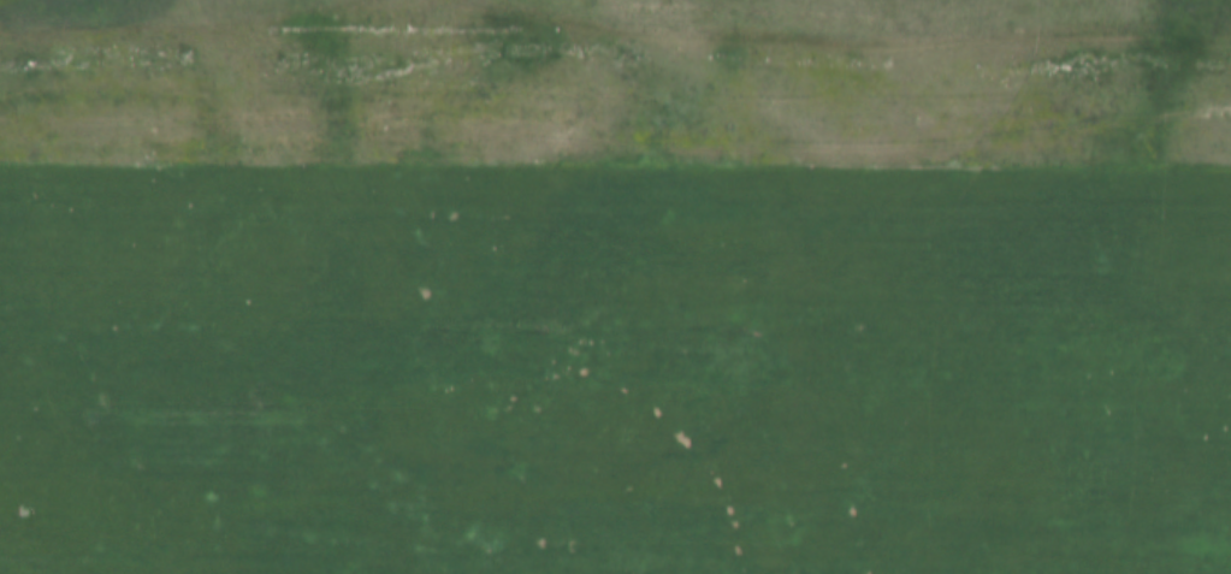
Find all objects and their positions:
road: (615, 141)

